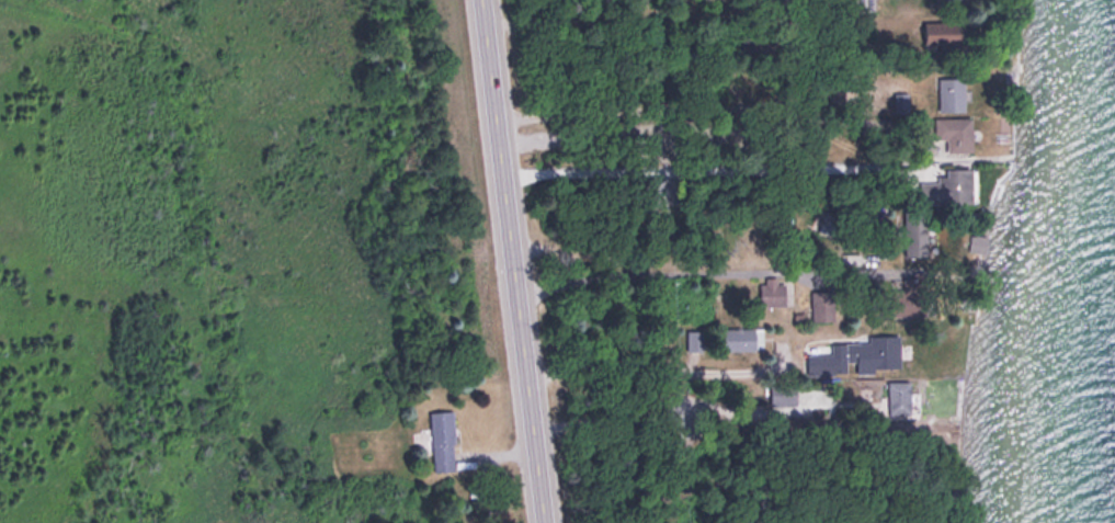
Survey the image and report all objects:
building: (943, 34)
building: (951, 92)
building: (901, 101)
building: (955, 133)
building: (951, 186)
building: (828, 220)
building: (915, 236)
road: (512, 261)
building: (773, 287)
building: (743, 337)
building: (856, 351)
building: (443, 439)

